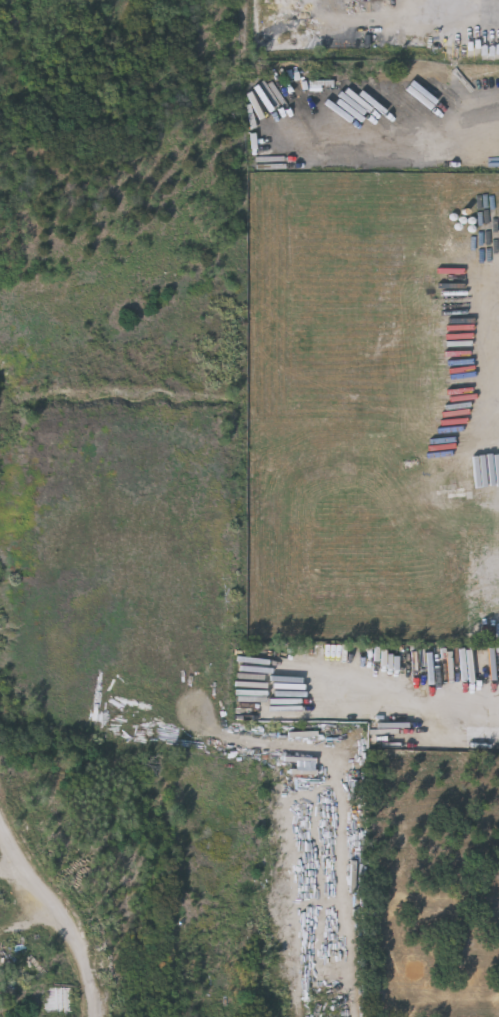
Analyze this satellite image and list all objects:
road: (487, 118)
building: (474, 493)
road: (427, 697)
road: (60, 913)

